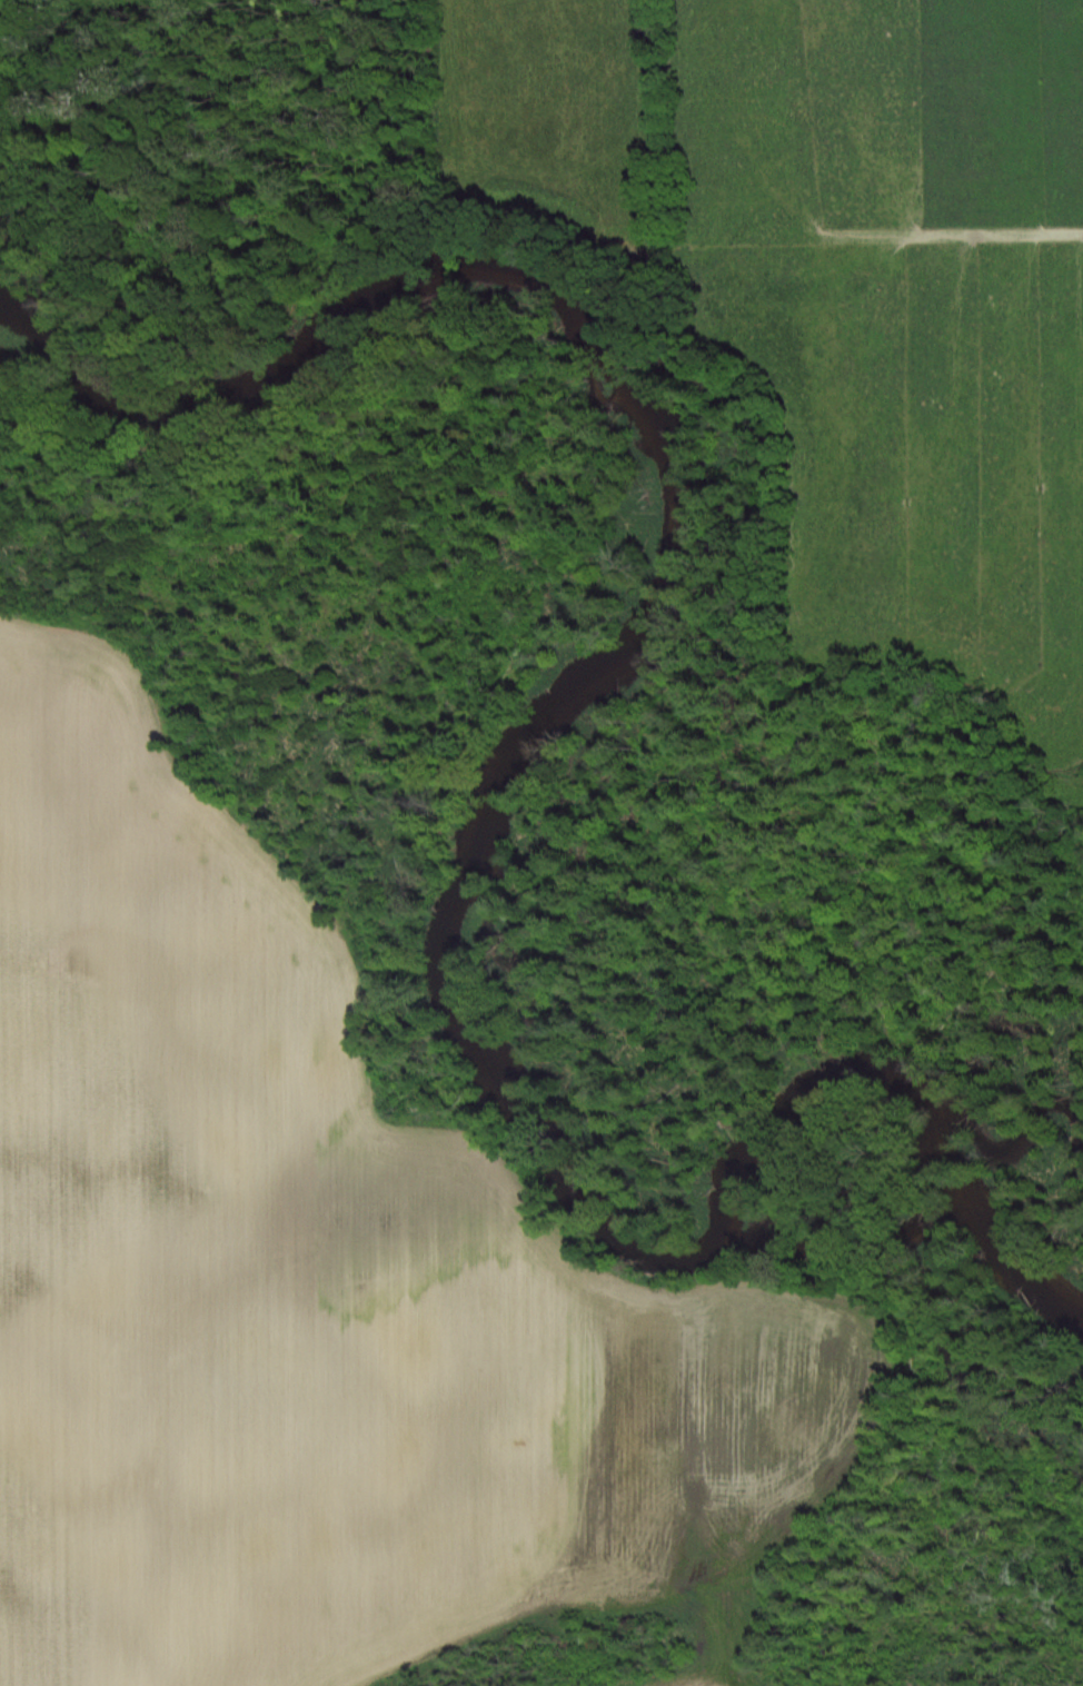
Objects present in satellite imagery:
river: (560, 726)

